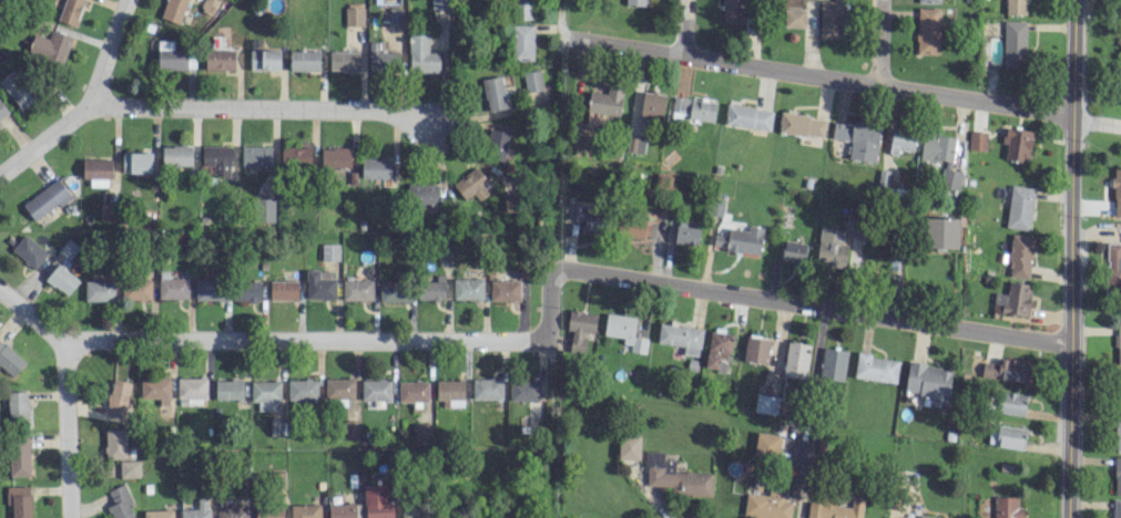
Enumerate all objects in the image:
building: (1120, 0)
building: (928, 1)
building: (636, 2)
building: (439, 3)
building: (1016, 7)
building: (523, 9)
building: (174, 10)
building: (71, 11)
building: (733, 11)
building: (354, 15)
building: (396, 17)
building: (794, 18)
road: (561, 19)
building: (829, 19)
road: (684, 25)
building: (927, 30)
road: (877, 41)
building: (521, 42)
building: (1013, 43)
building: (50, 48)
building: (421, 54)
building: (263, 58)
building: (172, 59)
building: (381, 59)
building: (218, 60)
building: (304, 61)
building: (344, 61)
road: (817, 73)
building: (531, 81)
building: (18, 87)
building: (493, 93)
building: (605, 101)
road: (88, 103)
building: (651, 105)
road: (264, 108)
building: (693, 108)
building: (2, 110)
building: (747, 116)
road: (1097, 122)
building: (0, 125)
building: (802, 125)
building: (858, 138)
building: (901, 141)
building: (977, 141)
building: (1017, 144)
building: (496, 145)
building: (176, 155)
building: (255, 156)
building: (940, 156)
building: (295, 157)
building: (335, 157)
building: (217, 159)
building: (136, 162)
building: (376, 167)
building: (96, 172)
building: (473, 184)
building: (1117, 191)
building: (421, 194)
building: (45, 199)
building: (1019, 207)
building: (265, 209)
building: (104, 214)
building: (585, 216)
building: (634, 225)
building: (940, 231)
building: (686, 234)
building: (740, 240)
building: (830, 247)
building: (28, 251)
building: (329, 251)
building: (793, 251)
building: (1019, 256)
road: (1071, 259)
building: (1113, 267)
building: (61, 279)
building: (319, 284)
building: (173, 287)
building: (208, 288)
building: (431, 288)
building: (467, 288)
building: (135, 289)
building: (99, 290)
building: (283, 290)
building: (357, 290)
building: (505, 290)
building: (246, 291)
building: (394, 291)
building: (1013, 298)
road: (548, 299)
road: (816, 305)
building: (580, 329)
building: (623, 331)
building: (681, 338)
road: (264, 341)
building: (1118, 344)
building: (755, 349)
building: (717, 350)
building: (796, 359)
building: (10, 360)
building: (833, 364)
building: (876, 367)
building: (1005, 370)
road: (548, 372)
building: (1119, 381)
building: (929, 383)
building: (154, 387)
building: (338, 387)
building: (192, 388)
building: (228, 388)
building: (487, 388)
building: (302, 390)
building: (376, 390)
building: (523, 390)
building: (412, 391)
building: (450, 392)
building: (265, 394)
building: (118, 398)
building: (1010, 403)
building: (765, 404)
building: (17, 406)
building: (276, 426)
road: (65, 429)
building: (1118, 432)
building: (421, 434)
building: (1006, 436)
building: (115, 443)
building: (766, 445)
building: (629, 446)
building: (19, 455)
building: (130, 468)
building: (1117, 475)
building: (675, 477)
building: (19, 500)
building: (378, 501)
building: (120, 503)
building: (234, 505)
building: (767, 505)
building: (1006, 507)
building: (415, 508)
building: (1117, 508)
building: (197, 509)
building: (835, 509)
building: (305, 510)
building: (342, 510)
building: (268, 511)
building: (157, 514)
building: (930, 517)

